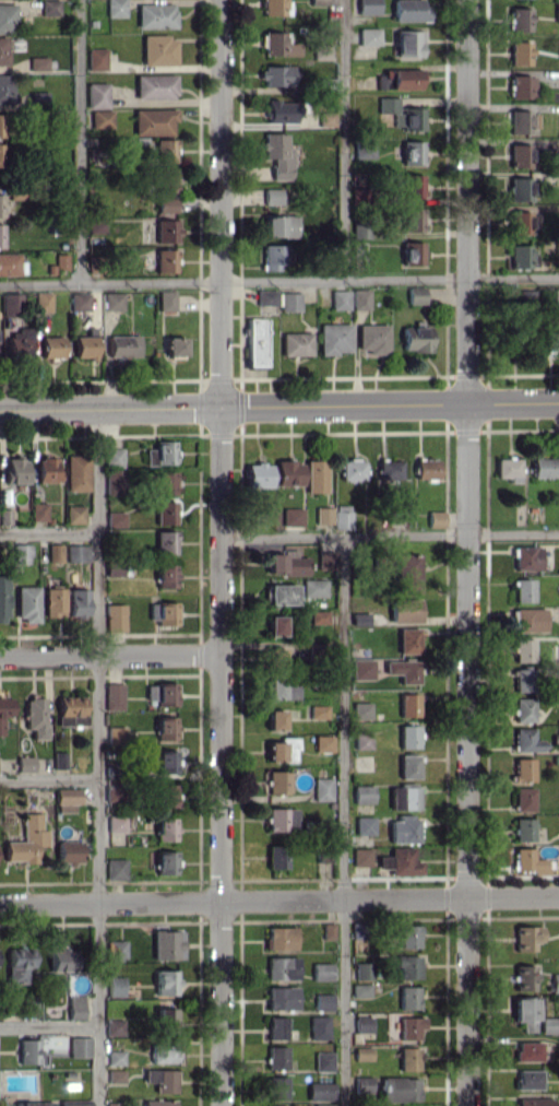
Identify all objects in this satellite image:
building: (318, 2)
building: (272, 7)
building: (367, 7)
building: (49, 8)
building: (115, 8)
building: (409, 10)
building: (557, 12)
building: (155, 15)
building: (7, 17)
building: (519, 19)
building: (368, 36)
building: (276, 44)
building: (408, 44)
building: (558, 47)
building: (158, 49)
building: (3, 50)
building: (321, 51)
building: (519, 52)
building: (95, 58)
building: (37, 62)
building: (276, 74)
building: (397, 79)
building: (155, 85)
building: (520, 86)
building: (5, 89)
building: (96, 95)
building: (37, 97)
building: (279, 111)
building: (401, 114)
building: (102, 118)
building: (325, 118)
building: (153, 121)
building: (519, 121)
road: (343, 140)
road: (79, 142)
building: (164, 150)
building: (362, 150)
building: (412, 152)
building: (276, 155)
building: (519, 155)
building: (412, 185)
building: (519, 189)
building: (166, 190)
building: (273, 196)
building: (1, 205)
building: (412, 219)
building: (519, 222)
building: (278, 226)
building: (360, 227)
building: (166, 230)
building: (1, 235)
building: (412, 252)
building: (273, 256)
building: (519, 256)
building: (165, 260)
building: (9, 263)
road: (278, 281)
building: (415, 294)
building: (265, 297)
building: (359, 298)
building: (11, 299)
building: (166, 299)
building: (340, 299)
building: (43, 301)
building: (79, 301)
building: (112, 301)
building: (289, 301)
building: (333, 338)
building: (371, 338)
building: (416, 338)
building: (550, 340)
building: (17, 342)
building: (254, 342)
building: (296, 343)
building: (85, 344)
building: (122, 345)
building: (50, 346)
building: (174, 346)
road: (279, 407)
building: (160, 452)
building: (112, 457)
building: (542, 467)
building: (426, 468)
building: (45, 469)
building: (352, 469)
building: (507, 469)
building: (15, 470)
building: (388, 470)
building: (75, 472)
building: (288, 472)
building: (258, 474)
building: (314, 475)
building: (112, 482)
building: (165, 483)
building: (38, 511)
building: (165, 513)
building: (74, 514)
building: (4, 516)
building: (292, 516)
building: (322, 516)
building: (342, 516)
building: (435, 518)
building: (115, 519)
road: (48, 531)
road: (389, 534)
building: (165, 542)
building: (55, 551)
building: (76, 551)
road: (219, 552)
building: (21, 553)
road: (465, 553)
building: (526, 557)
building: (324, 560)
building: (285, 563)
building: (407, 573)
building: (165, 575)
building: (313, 588)
building: (558, 588)
building: (522, 590)
building: (281, 593)
building: (3, 599)
building: (53, 602)
building: (78, 602)
building: (26, 603)
building: (404, 610)
building: (162, 612)
building: (558, 615)
building: (115, 616)
building: (318, 616)
building: (357, 617)
building: (528, 620)
building: (274, 625)
building: (409, 639)
building: (522, 649)
building: (558, 652)
road: (109, 655)
building: (361, 668)
building: (403, 669)
building: (523, 680)
building: (279, 690)
building: (160, 693)
building: (114, 696)
building: (407, 704)
building: (558, 706)
building: (4, 709)
building: (522, 709)
building: (70, 710)
building: (319, 711)
building: (35, 716)
building: (274, 719)
building: (165, 728)
building: (116, 733)
building: (407, 736)
building: (558, 737)
building: (362, 740)
building: (526, 740)
building: (323, 743)
building: (282, 750)
road: (97, 757)
building: (58, 760)
building: (162, 761)
building: (25, 763)
building: (407, 766)
building: (522, 769)
road: (48, 779)
building: (276, 781)
building: (322, 788)
building: (111, 792)
building: (362, 793)
building: (165, 795)
building: (403, 798)
building: (67, 799)
building: (522, 799)
building: (281, 819)
road: (343, 821)
building: (116, 823)
building: (364, 825)
building: (165, 828)
building: (403, 828)
building: (522, 828)
building: (26, 839)
building: (558, 849)
building: (68, 851)
building: (276, 856)
building: (360, 857)
building: (400, 861)
building: (527, 861)
building: (165, 862)
building: (116, 868)
road: (279, 899)
building: (357, 929)
building: (328, 930)
building: (408, 936)
building: (558, 936)
building: (525, 937)
building: (279, 938)
building: (166, 944)
building: (115, 950)
building: (62, 960)
building: (17, 965)
building: (407, 966)
building: (281, 967)
building: (321, 970)
building: (364, 970)
building: (523, 977)
building: (165, 981)
building: (555, 981)
building: (115, 986)
building: (360, 990)
building: (281, 997)
building: (407, 997)
building: (322, 1001)
building: (74, 1007)
building: (523, 1012)
building: (165, 1019)
building: (362, 1024)
road: (48, 1025)
building: (548, 1025)
building: (114, 1026)
building: (319, 1026)
building: (276, 1027)
building: (409, 1027)
building: (79, 1046)
building: (526, 1050)
building: (27, 1051)
building: (163, 1052)
building: (362, 1052)
building: (115, 1057)
building: (276, 1057)
building: (407, 1058)
building: (323, 1061)
building: (115, 1075)
building: (526, 1079)
building: (160, 1080)
building: (361, 1083)
building: (275, 1087)
building: (399, 1089)
building: (320, 1091)
building: (534, 1102)
building: (34, 1103)
building: (157, 1103)
building: (74, 1104)
building: (114, 1104)
building: (322, 1105)

